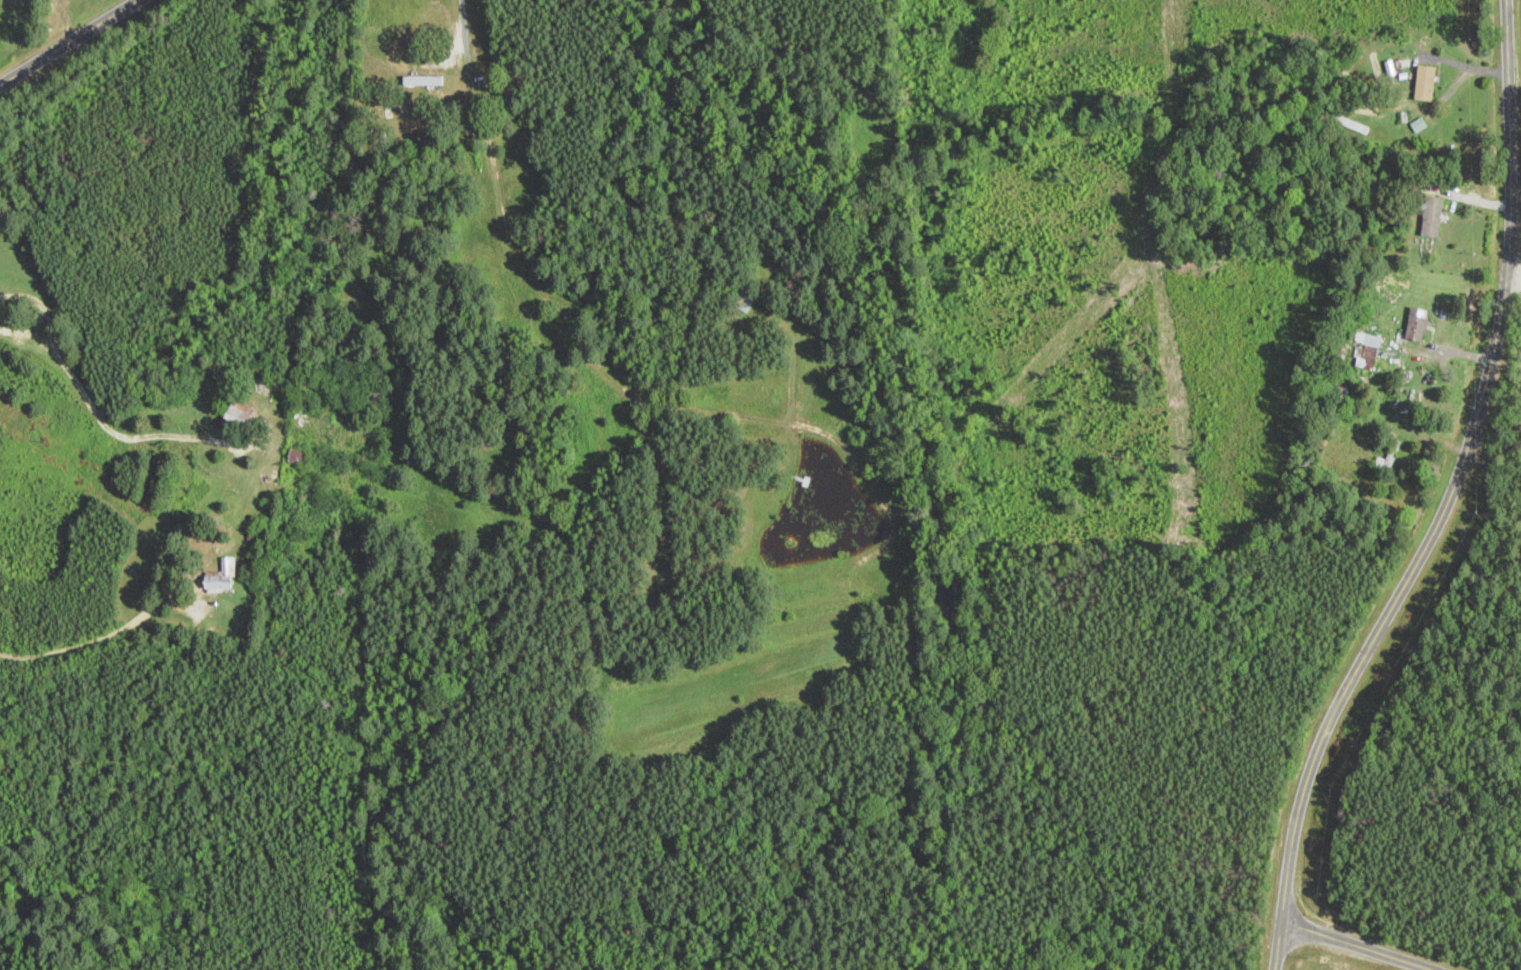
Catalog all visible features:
road: (70, 43)
building: (1425, 83)
building: (402, 114)
building: (1350, 124)
building: (1432, 216)
building: (745, 300)
building: (1417, 324)
building: (1368, 352)
building: (375, 394)
building: (238, 413)
building: (298, 457)
building: (1387, 458)
road: (1461, 477)
building: (221, 578)
road: (1280, 944)
road: (1362, 944)

